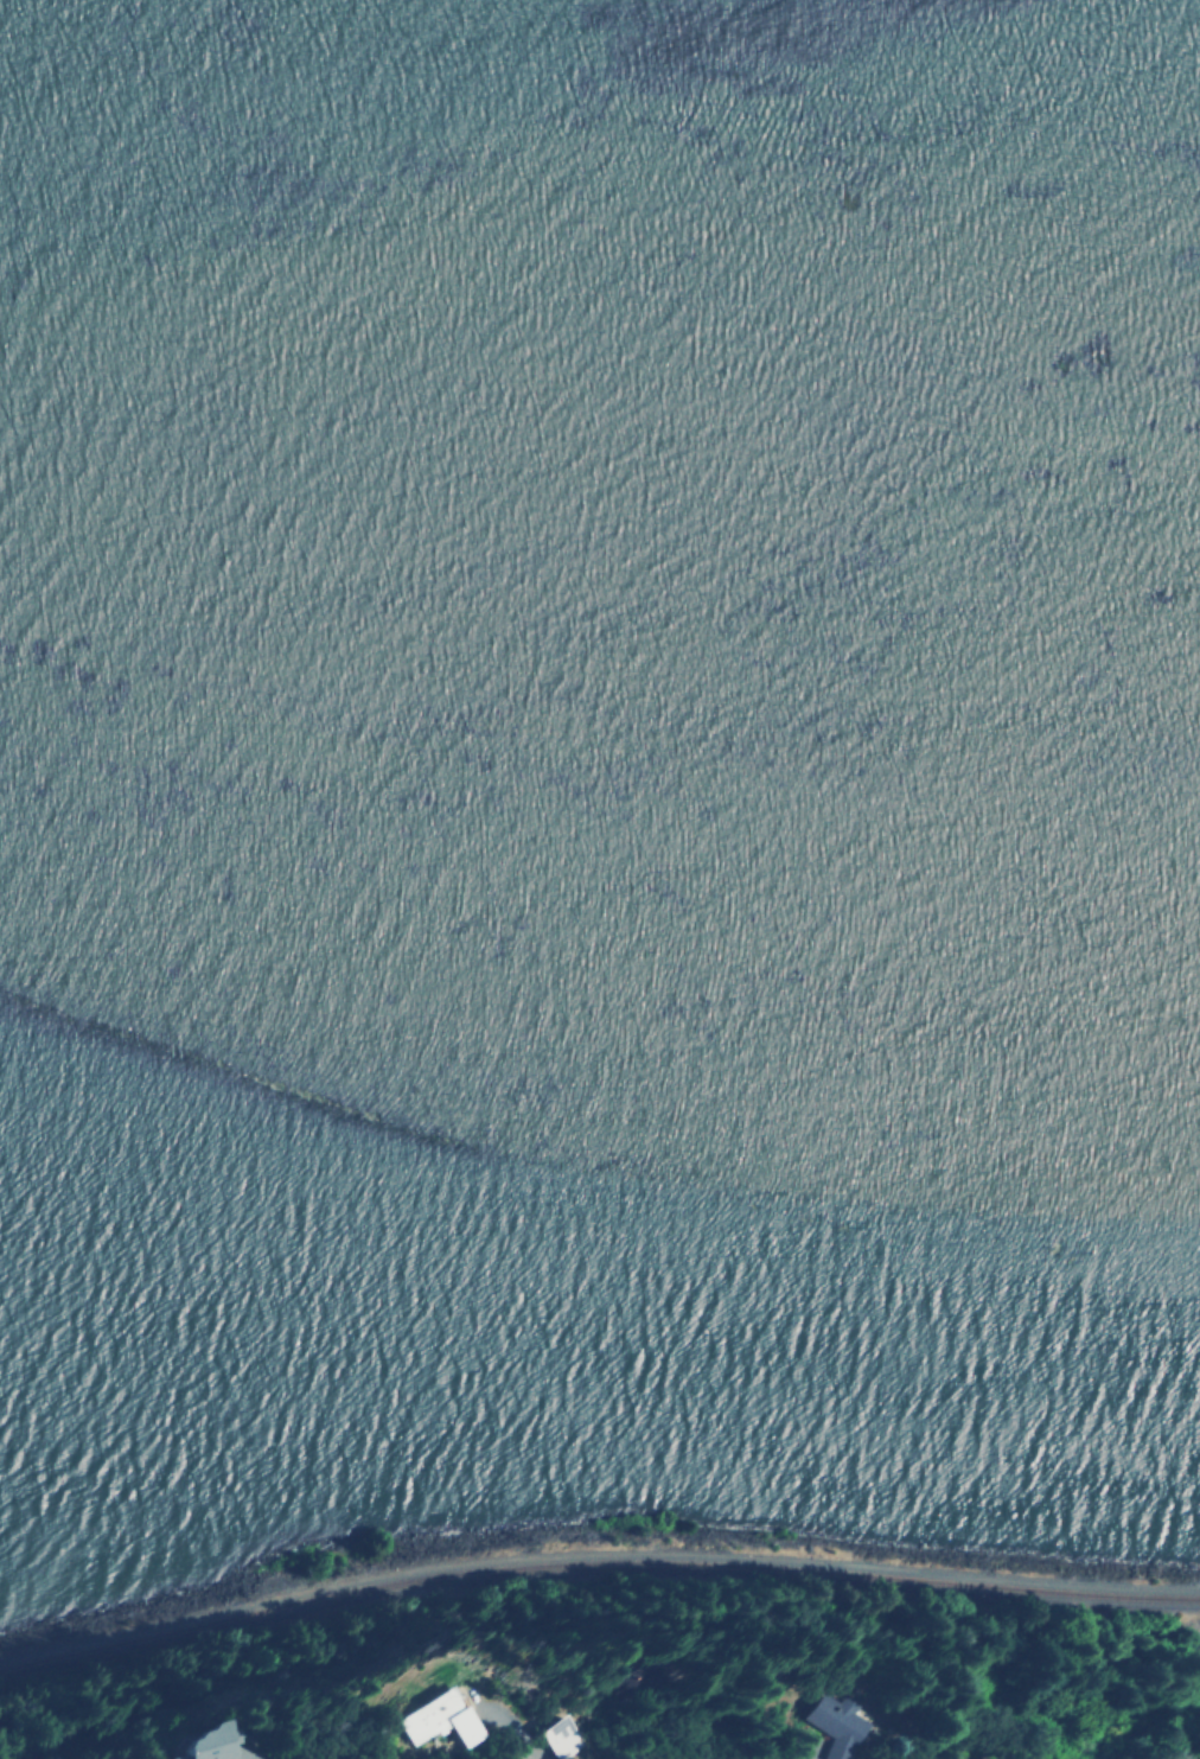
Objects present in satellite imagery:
railway: (594, 1562)
building: (433, 1716)
building: (835, 1725)
road: (509, 1740)
building: (199, 1744)
building: (977, 1758)

